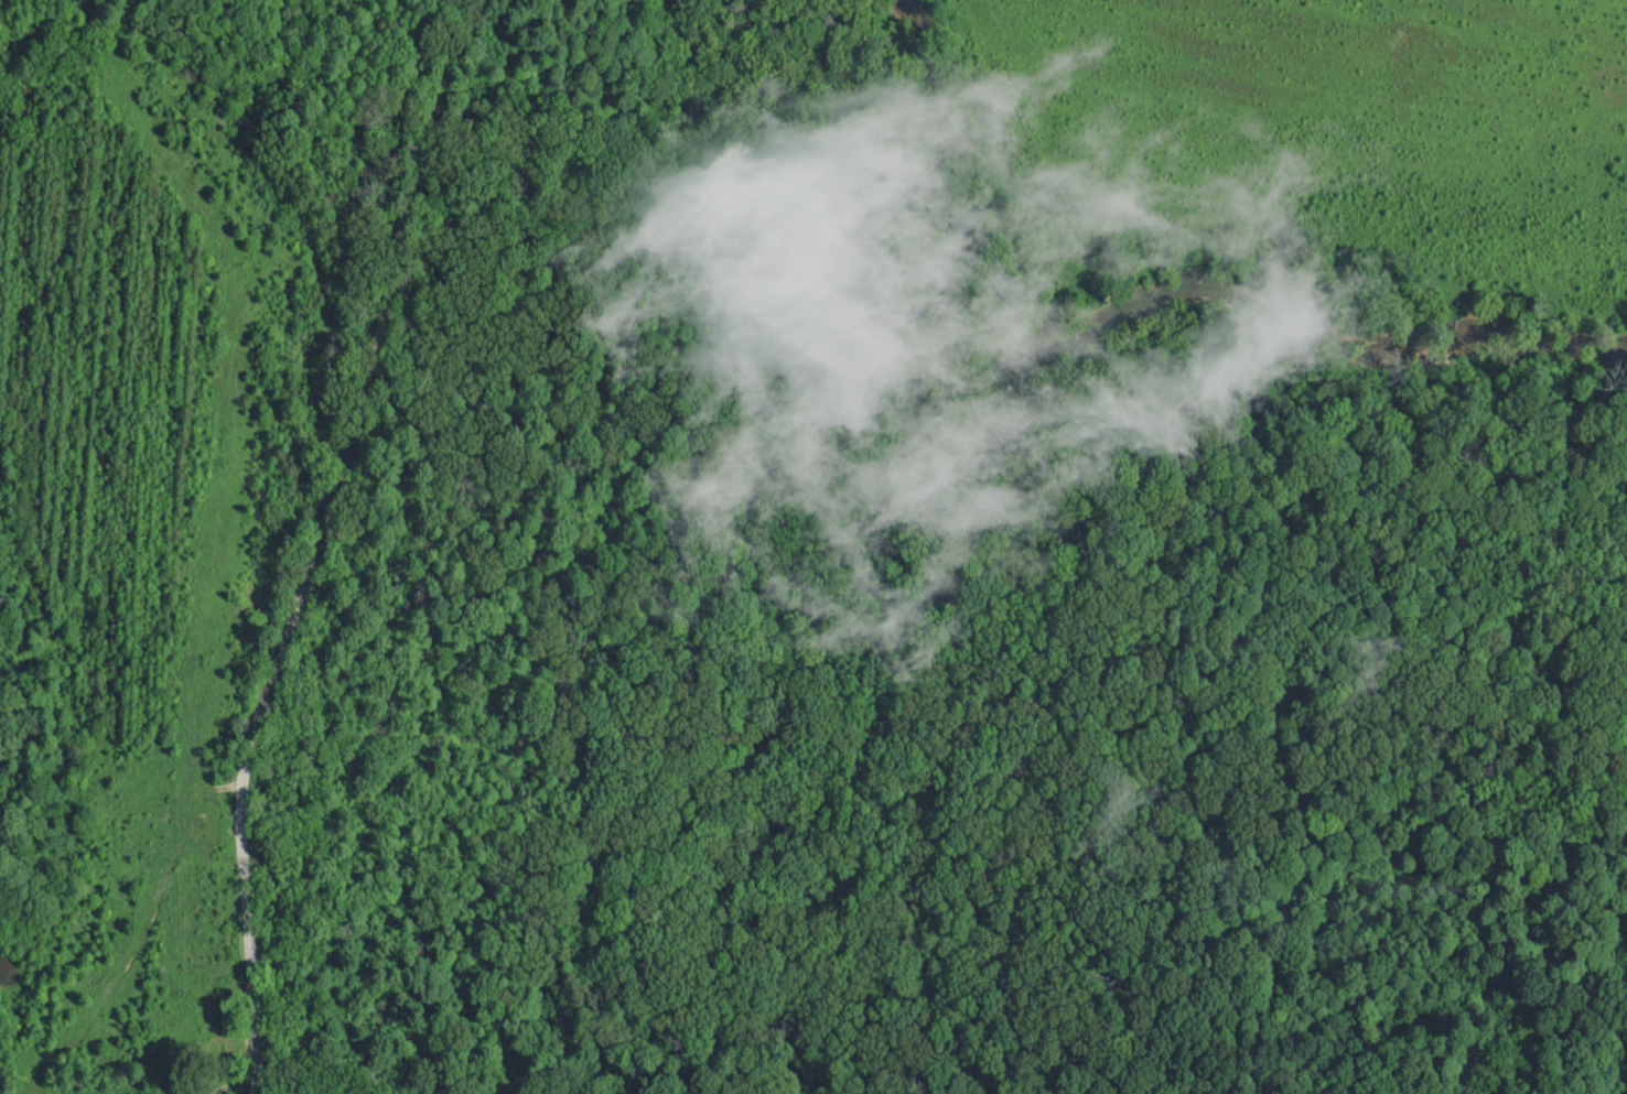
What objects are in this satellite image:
river: (1156, 301)
road: (304, 543)

